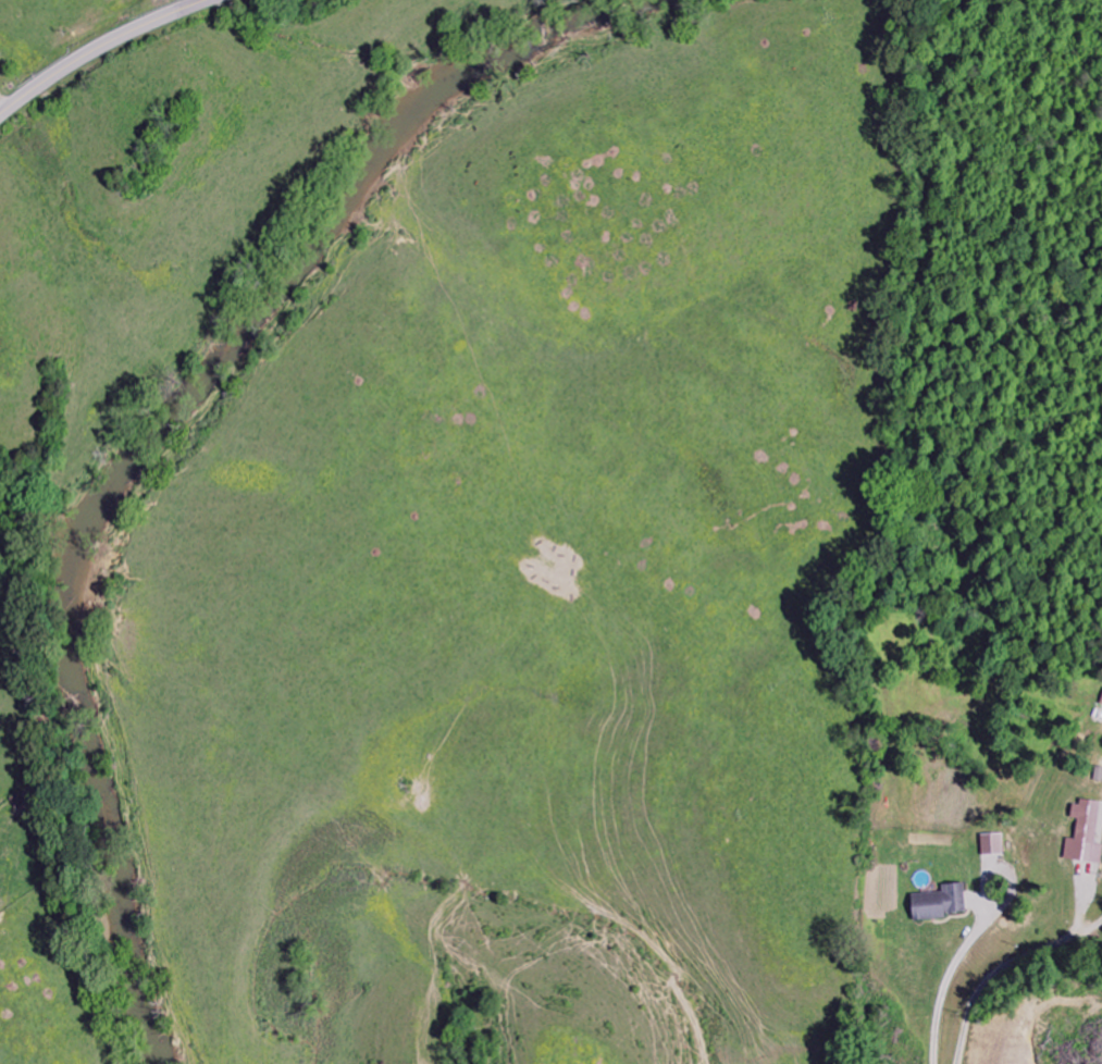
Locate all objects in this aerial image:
road: (99, 49)
building: (1101, 705)
building: (1085, 834)
building: (992, 844)
building: (939, 904)

